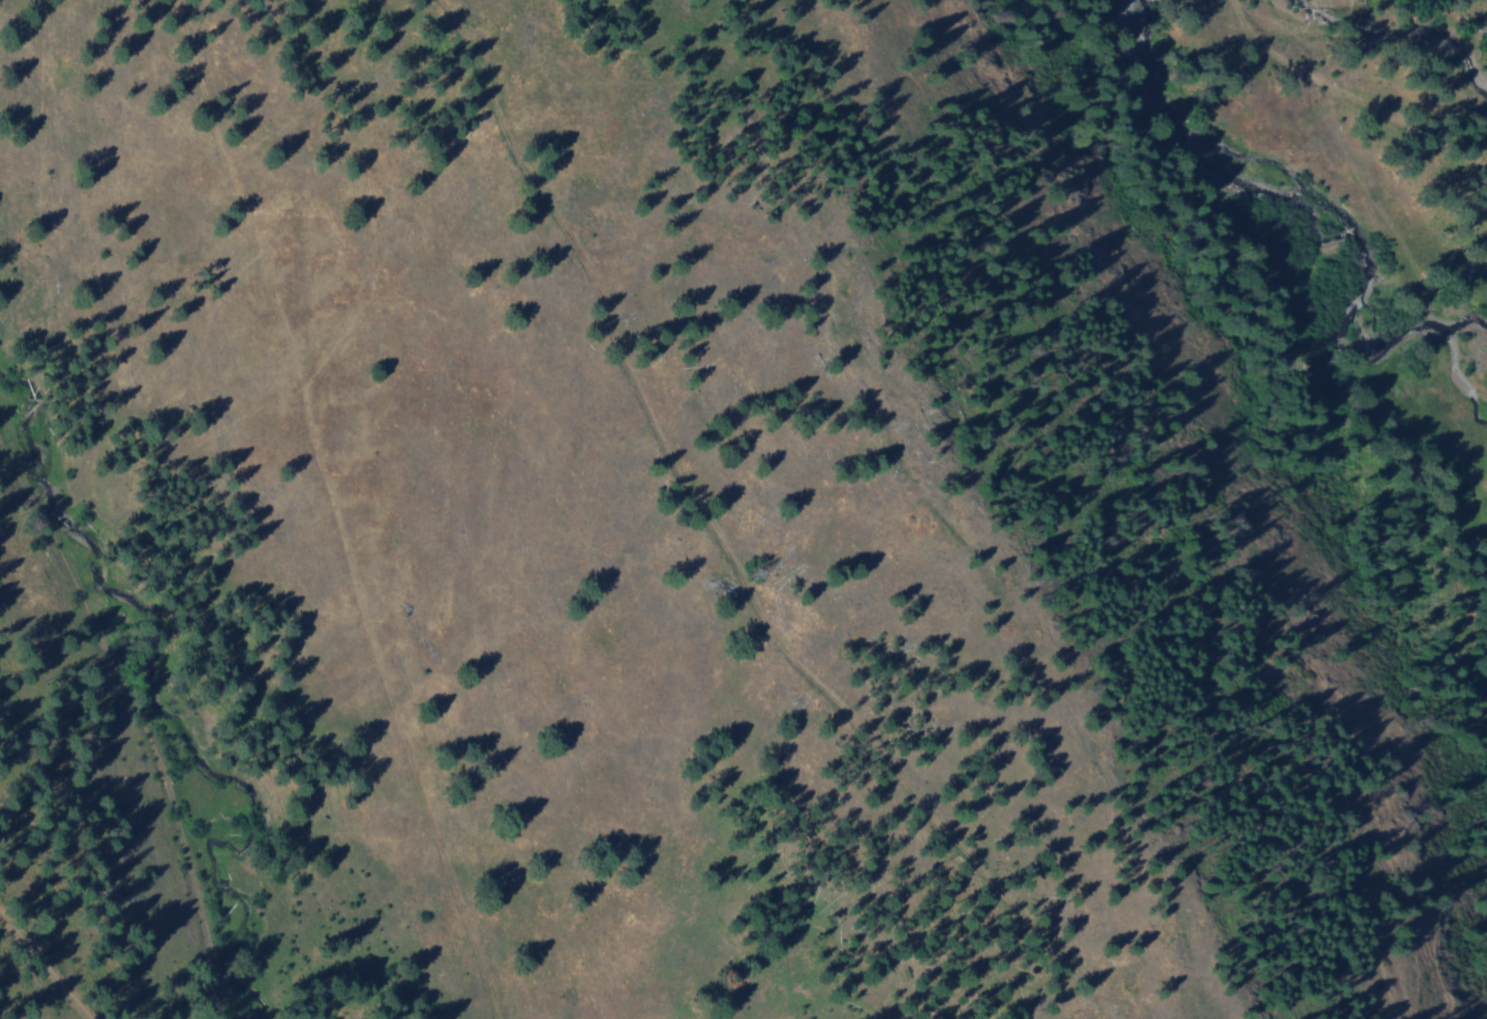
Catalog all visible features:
road: (1323, 121)

